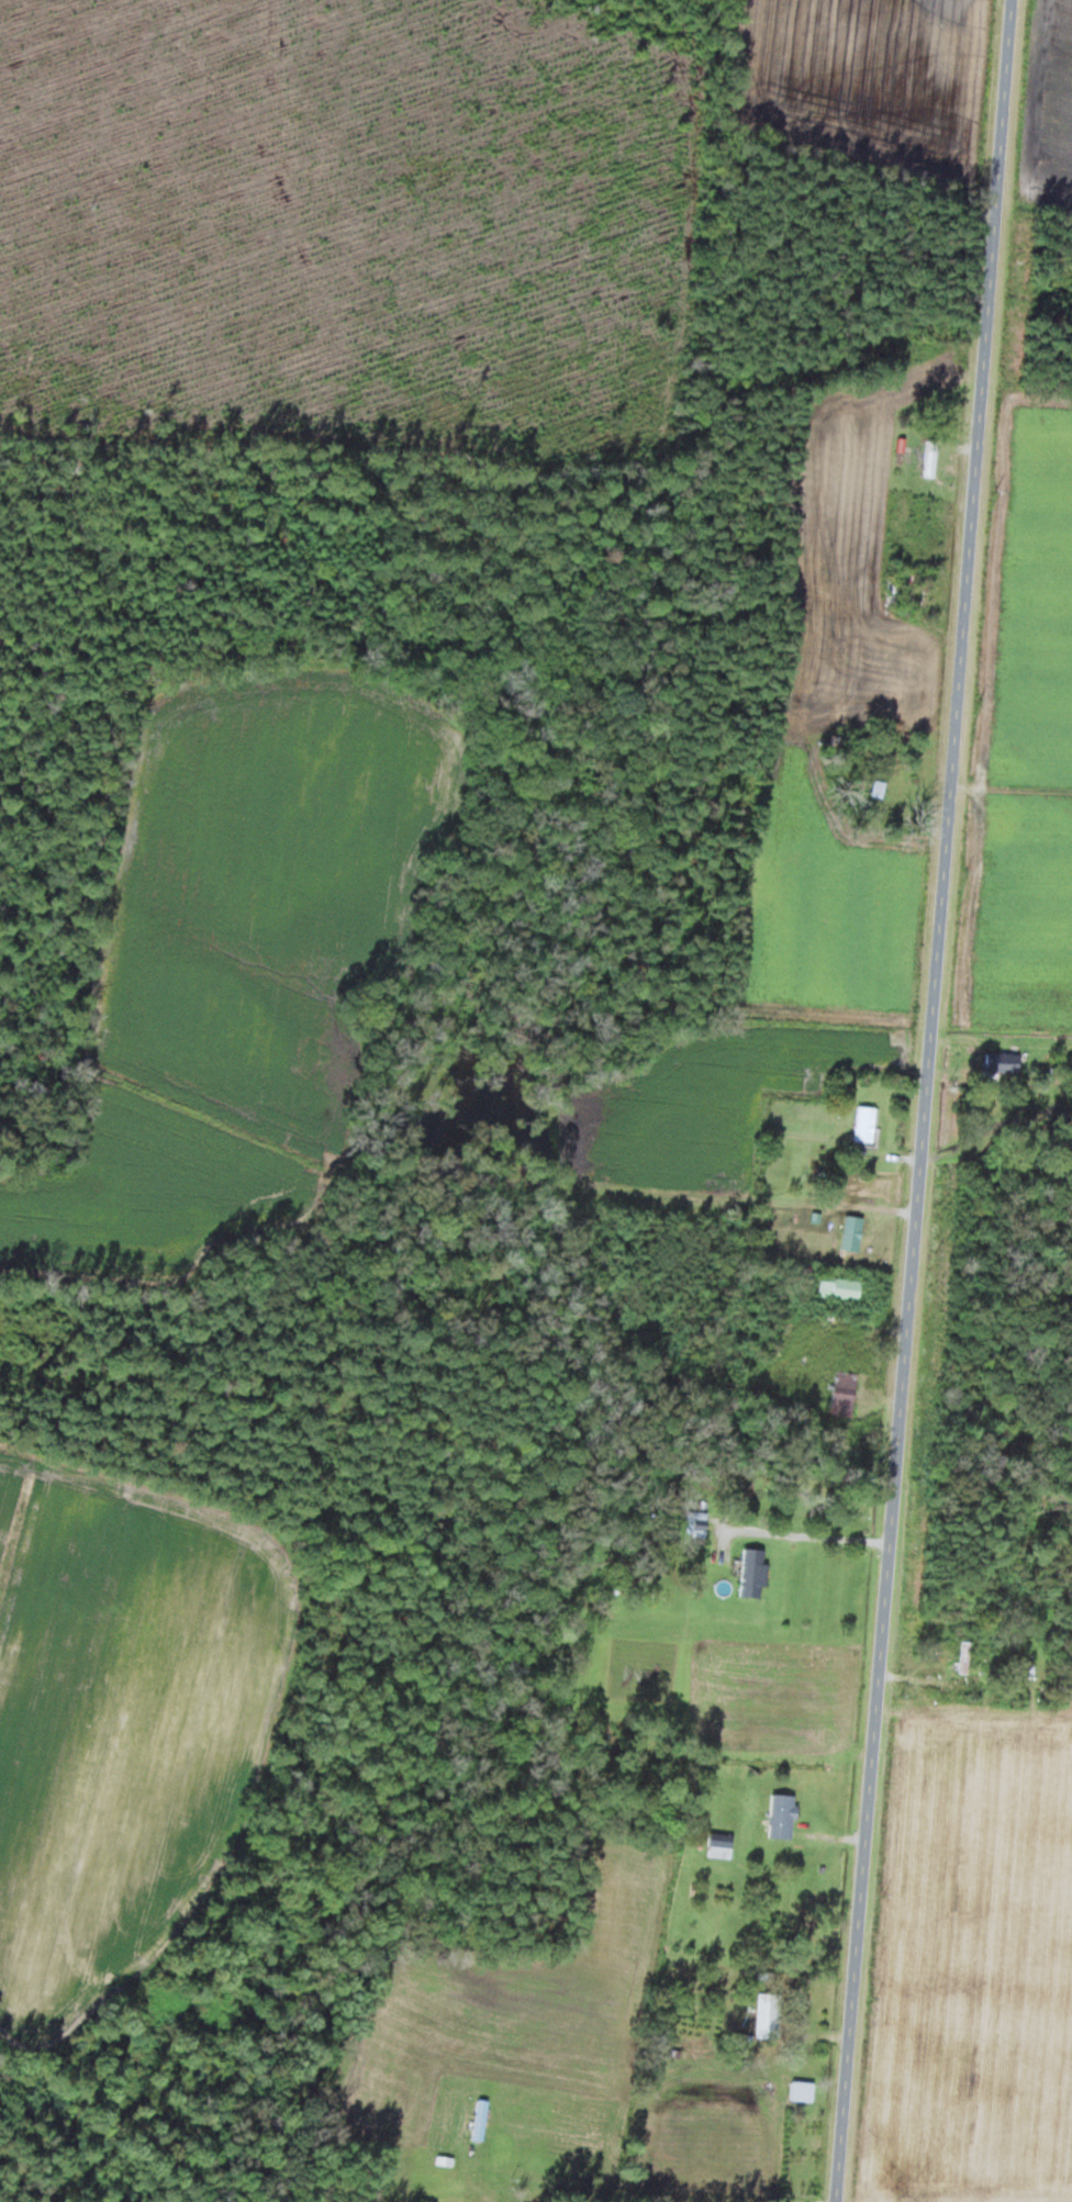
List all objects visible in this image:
building: (931, 460)
building: (879, 787)
building: (1005, 1060)
road: (925, 1100)
building: (868, 1122)
building: (855, 1231)
building: (841, 1286)
building: (847, 1391)
building: (699, 1518)
building: (755, 1571)
building: (967, 1655)
building: (783, 1815)
building: (723, 1844)
building: (804, 2090)
building: (482, 2119)

